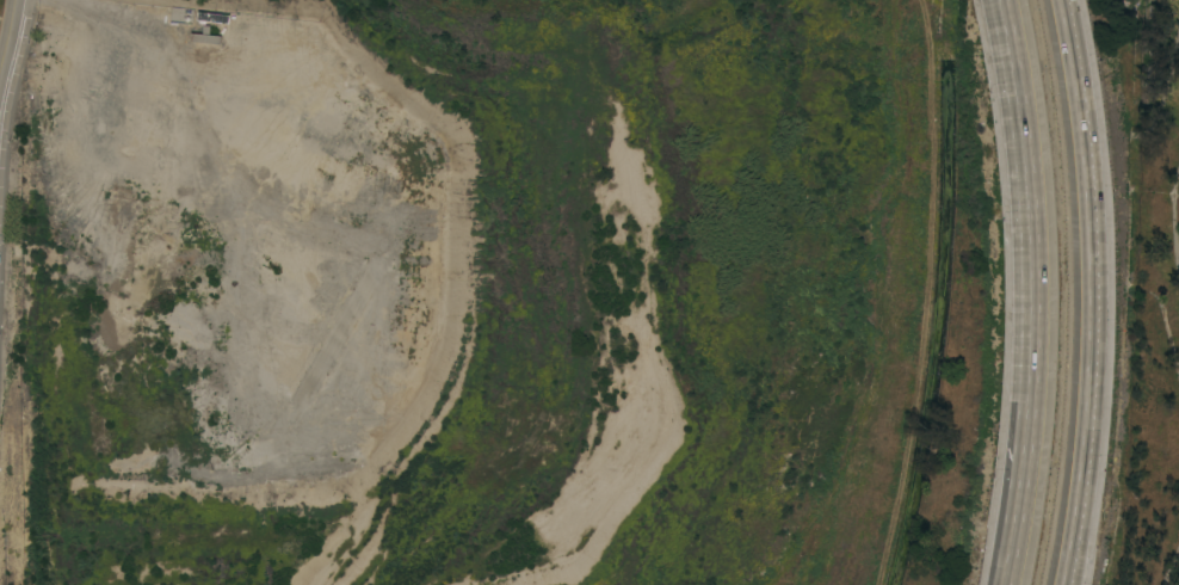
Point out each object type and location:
building: (204, 37)
road: (11, 47)
road: (1029, 248)
road: (1091, 291)
road: (1010, 538)
road: (1002, 581)

